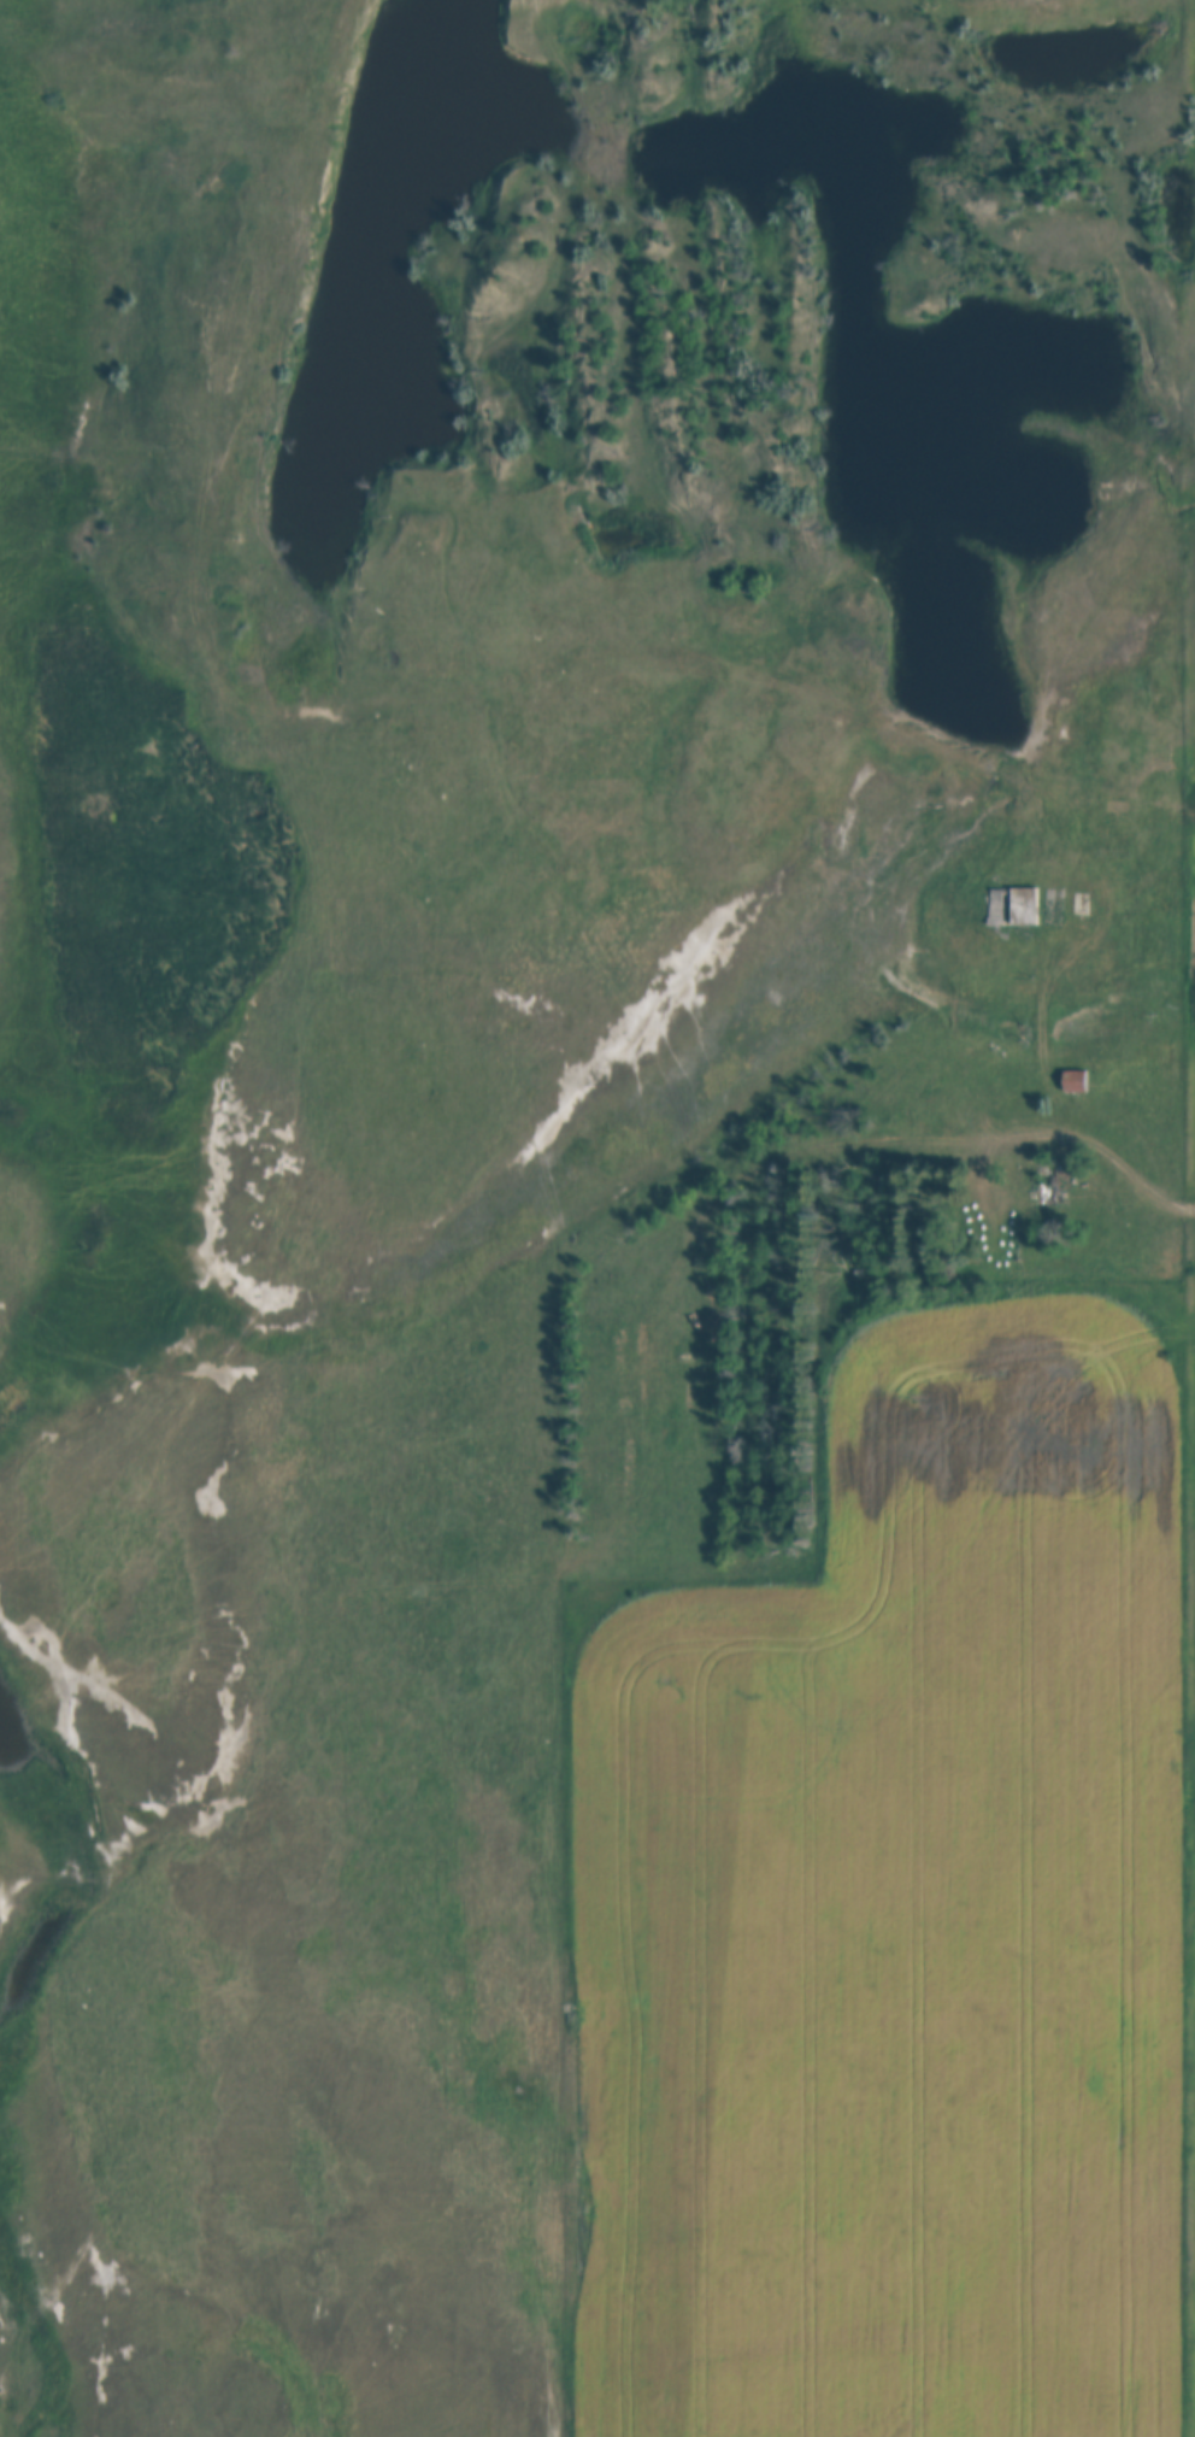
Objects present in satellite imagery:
building: (1017, 908)
building: (1076, 1081)
road: (1017, 1135)

